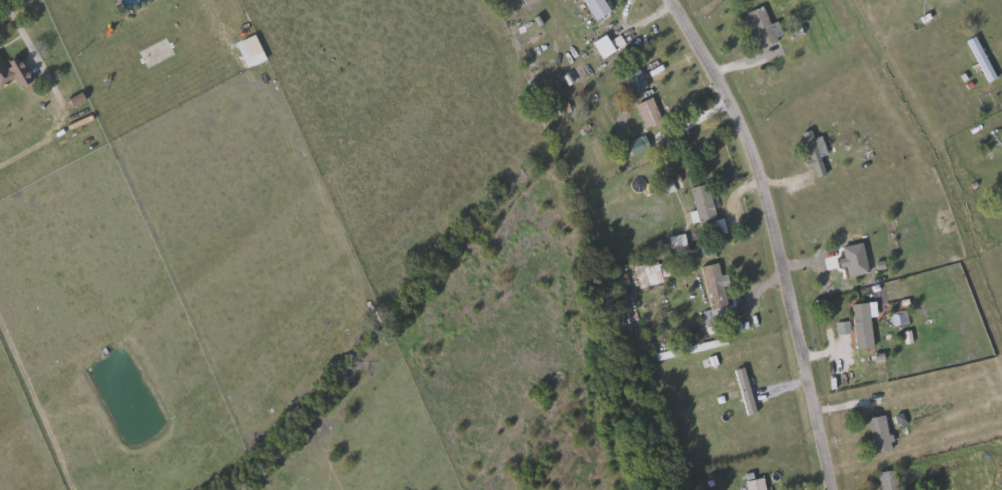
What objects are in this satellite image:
building: (600, 7)
road: (29, 20)
road: (624, 21)
building: (765, 25)
building: (606, 45)
building: (983, 56)
building: (15, 70)
building: (638, 79)
building: (651, 111)
road: (693, 122)
building: (639, 144)
building: (816, 152)
building: (705, 201)
road: (774, 236)
building: (852, 252)
building: (659, 270)
road: (783, 270)
building: (718, 292)
building: (867, 322)
building: (747, 390)
building: (882, 433)
building: (891, 479)
building: (758, 483)

